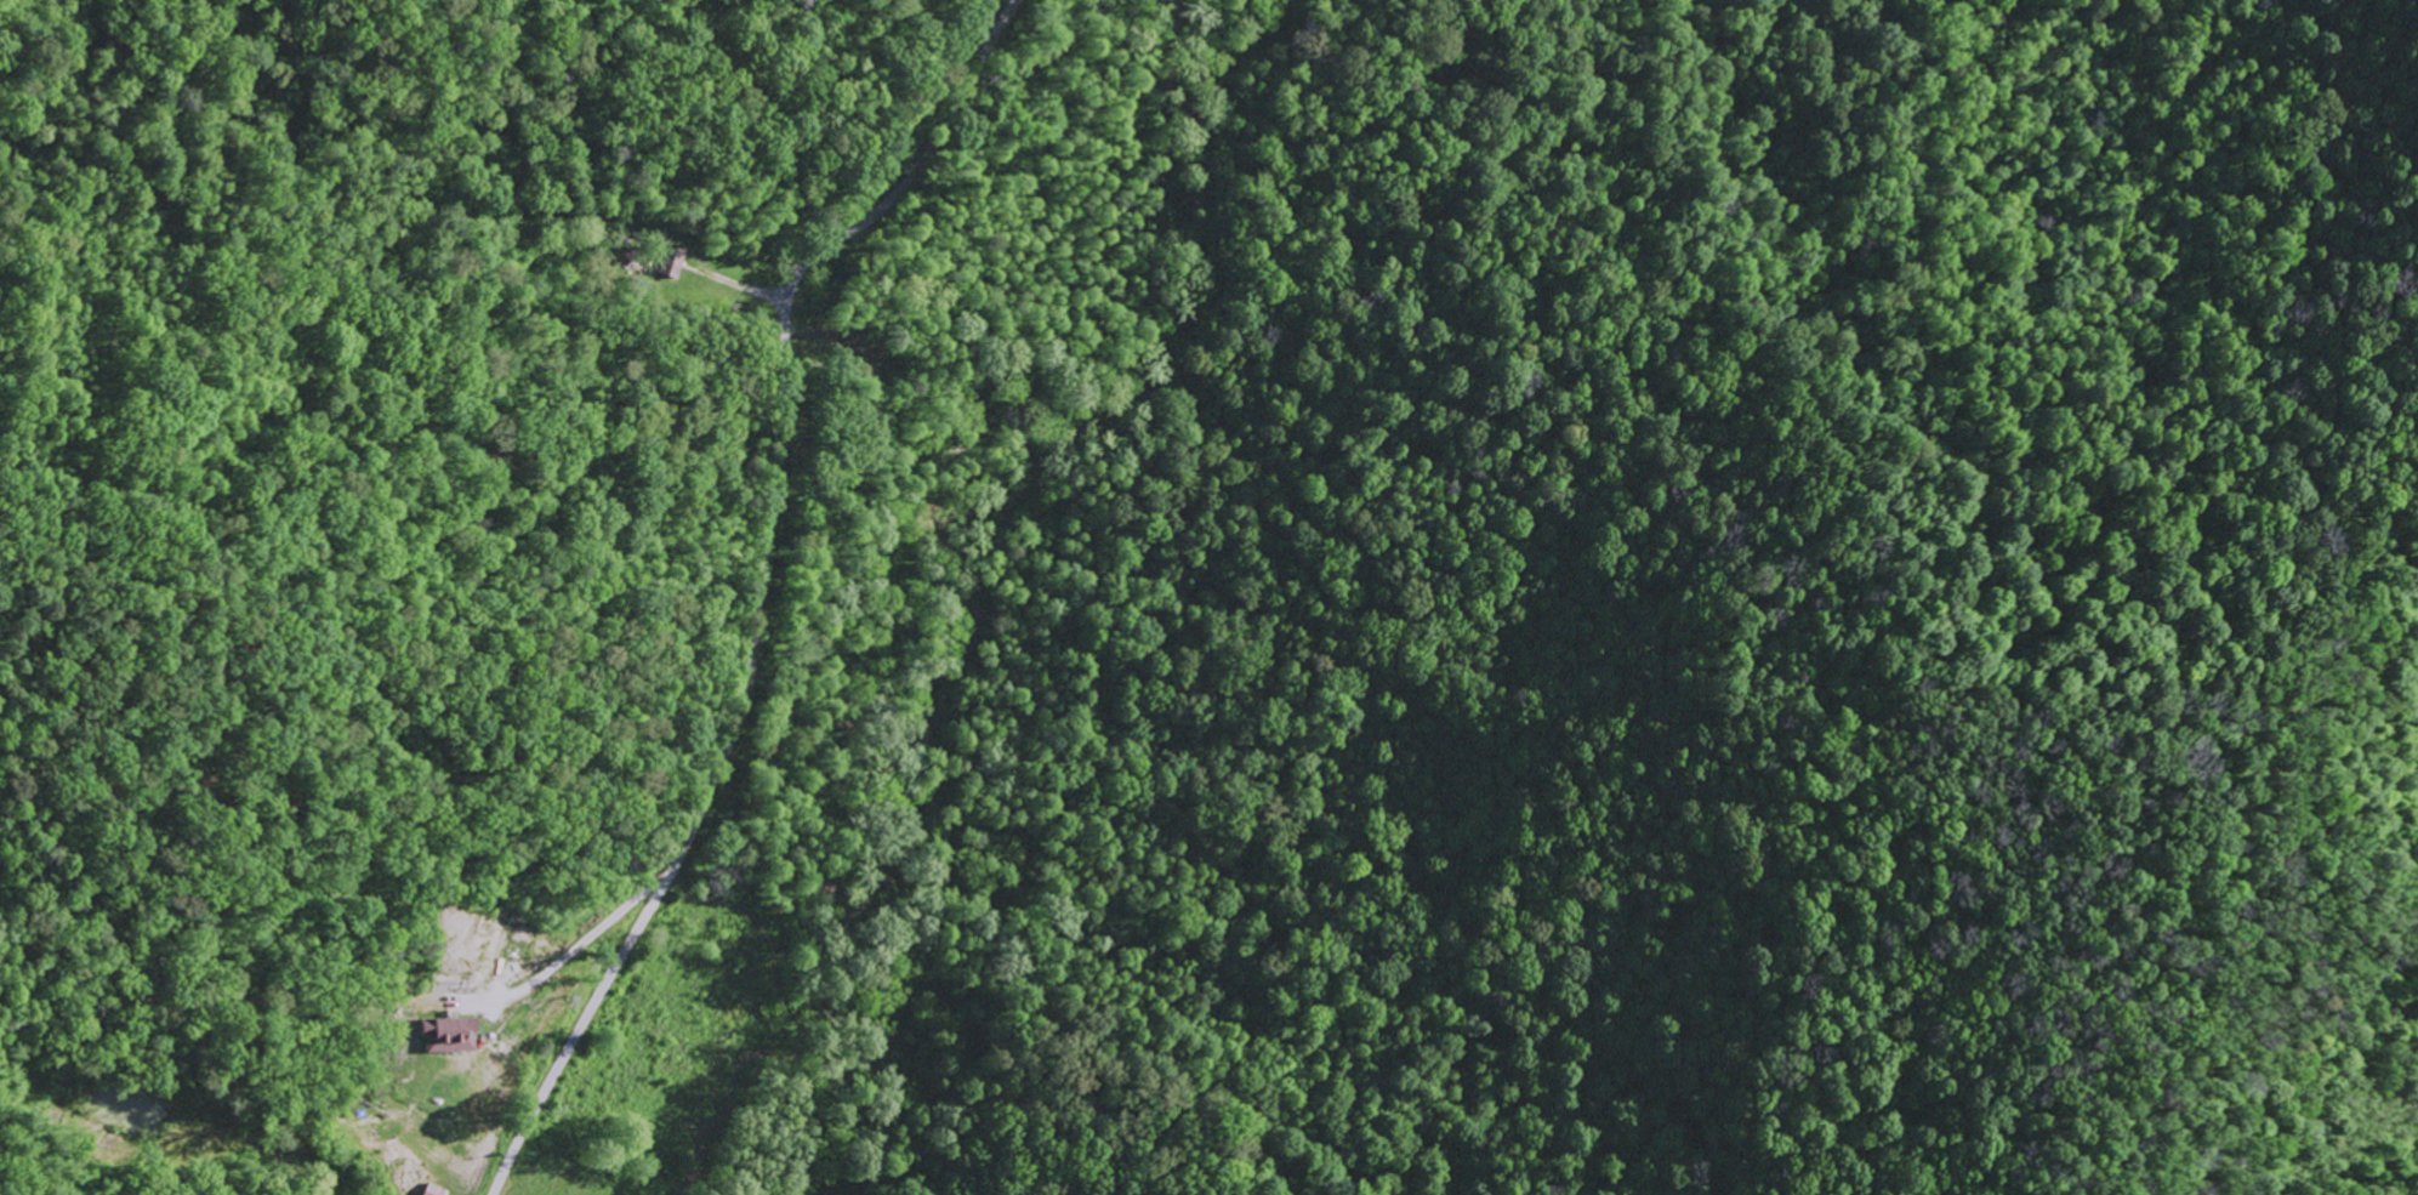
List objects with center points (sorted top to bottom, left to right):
road: (758, 586)
building: (444, 1037)
building: (432, 1190)

